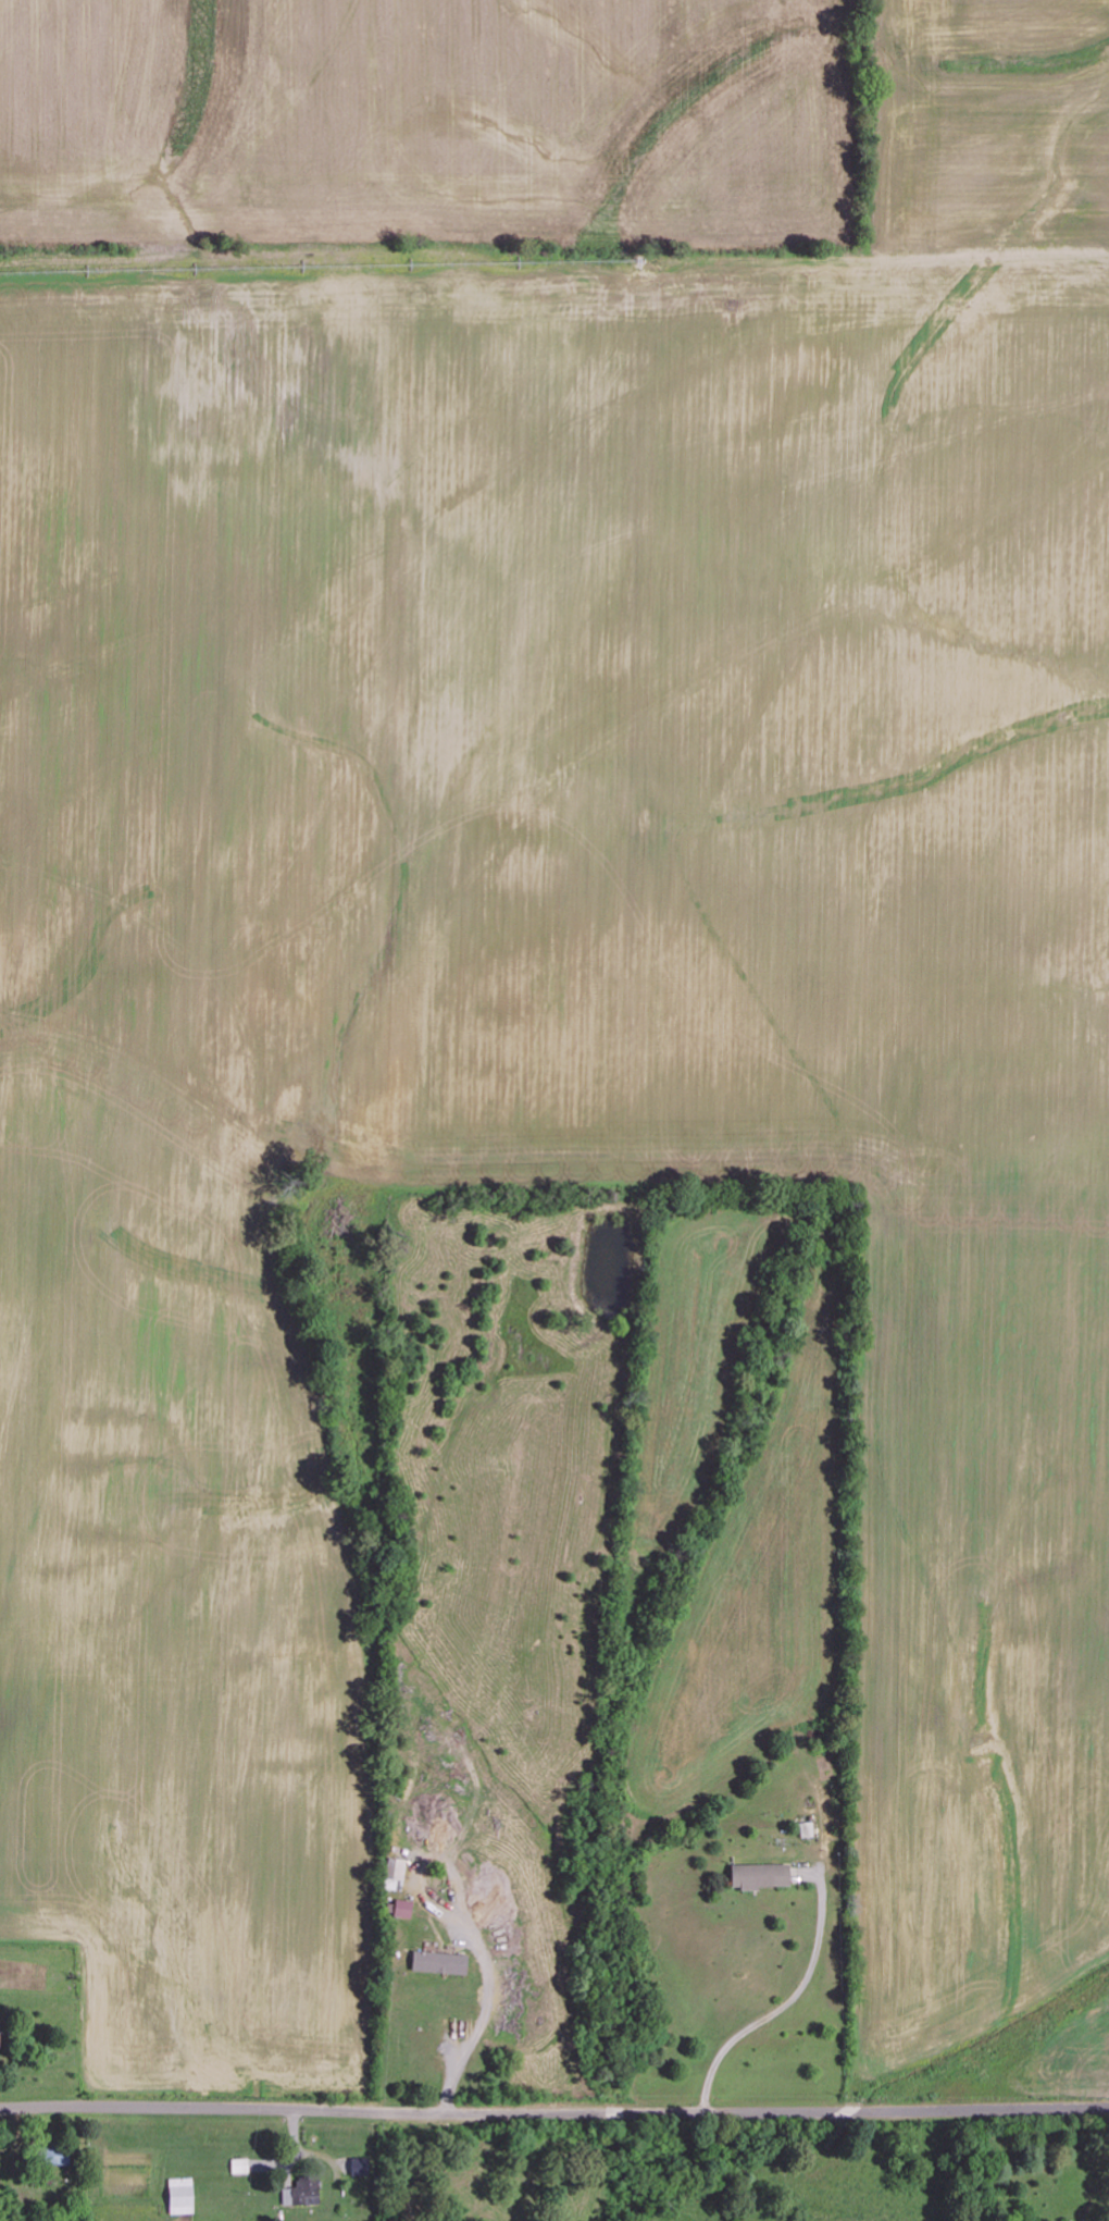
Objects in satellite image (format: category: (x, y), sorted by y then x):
building: (399, 1868)
building: (752, 1876)
building: (407, 1909)
building: (440, 1963)
building: (2, 2036)
road: (553, 2112)
building: (241, 2166)
building: (304, 2192)
building: (184, 2196)

